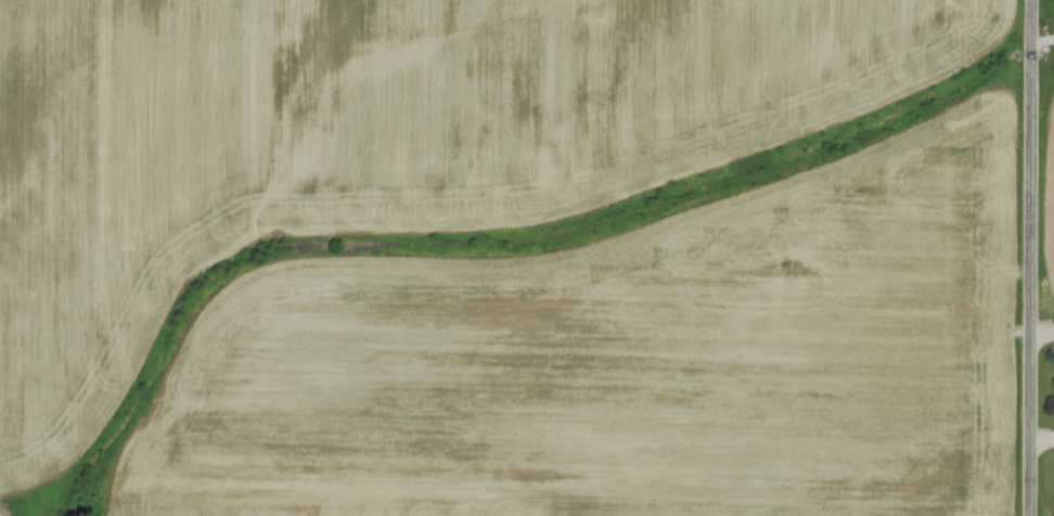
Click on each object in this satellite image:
road: (1044, 40)
road: (1033, 257)
road: (1043, 333)
road: (1043, 441)

